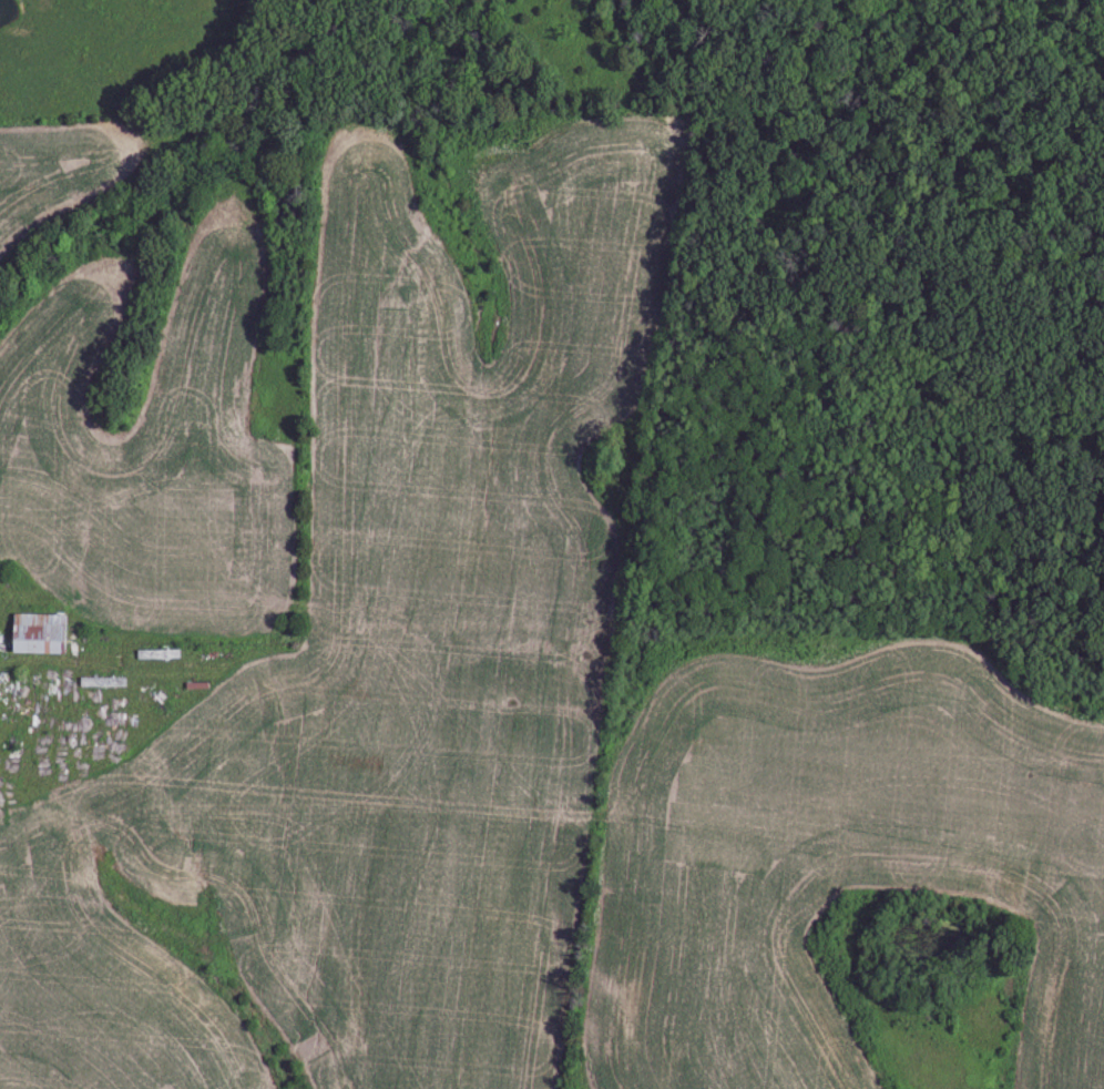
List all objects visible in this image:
building: (40, 632)

